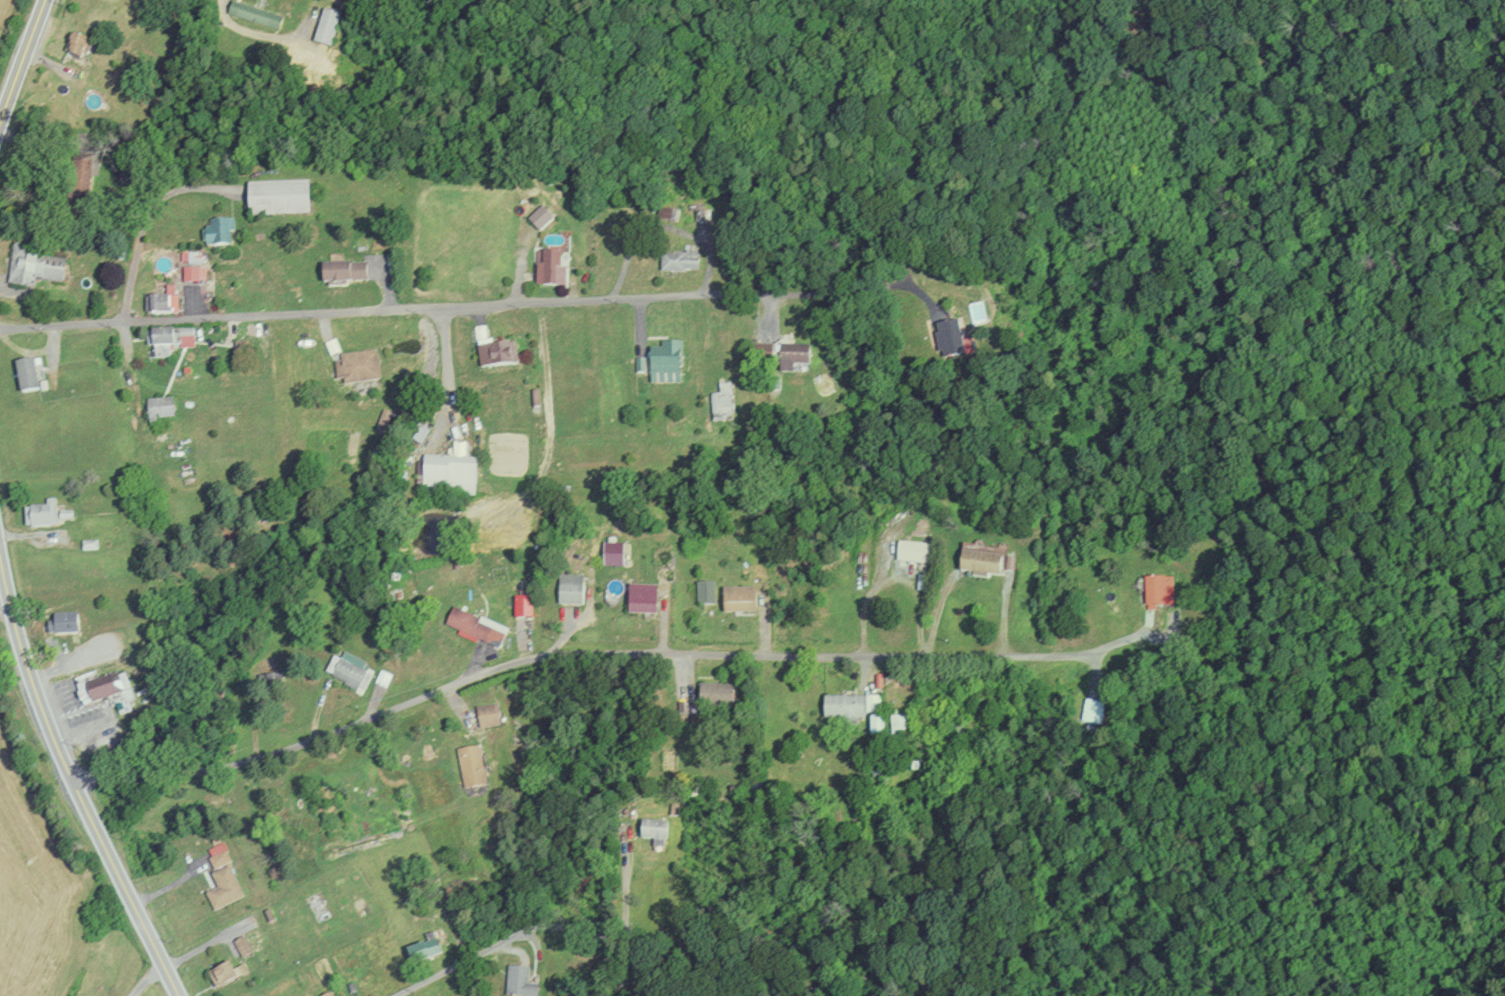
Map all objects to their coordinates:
building: (253, 14)
building: (325, 27)
road: (252, 32)
building: (76, 46)
road: (20, 60)
building: (276, 196)
building: (539, 217)
building: (217, 230)
building: (678, 260)
building: (32, 265)
building: (549, 267)
building: (192, 272)
building: (341, 272)
building: (161, 301)
road: (423, 308)
building: (949, 337)
building: (167, 340)
building: (493, 349)
building: (792, 355)
building: (664, 356)
building: (355, 366)
building: (27, 373)
building: (721, 402)
building: (158, 408)
building: (447, 474)
building: (40, 513)
building: (912, 552)
building: (982, 562)
building: (569, 589)
building: (705, 593)
building: (1159, 593)
building: (641, 599)
building: (738, 600)
building: (60, 623)
building: (474, 627)
road: (549, 657)
building: (347, 673)
building: (96, 686)
building: (715, 694)
building: (849, 706)
building: (1093, 711)
building: (486, 716)
building: (875, 725)
building: (897, 725)
building: (470, 766)
road: (74, 782)
building: (653, 829)
building: (221, 877)
building: (242, 947)
building: (421, 950)
road: (463, 964)
building: (225, 973)
road: (150, 981)
building: (519, 982)
building: (327, 994)

